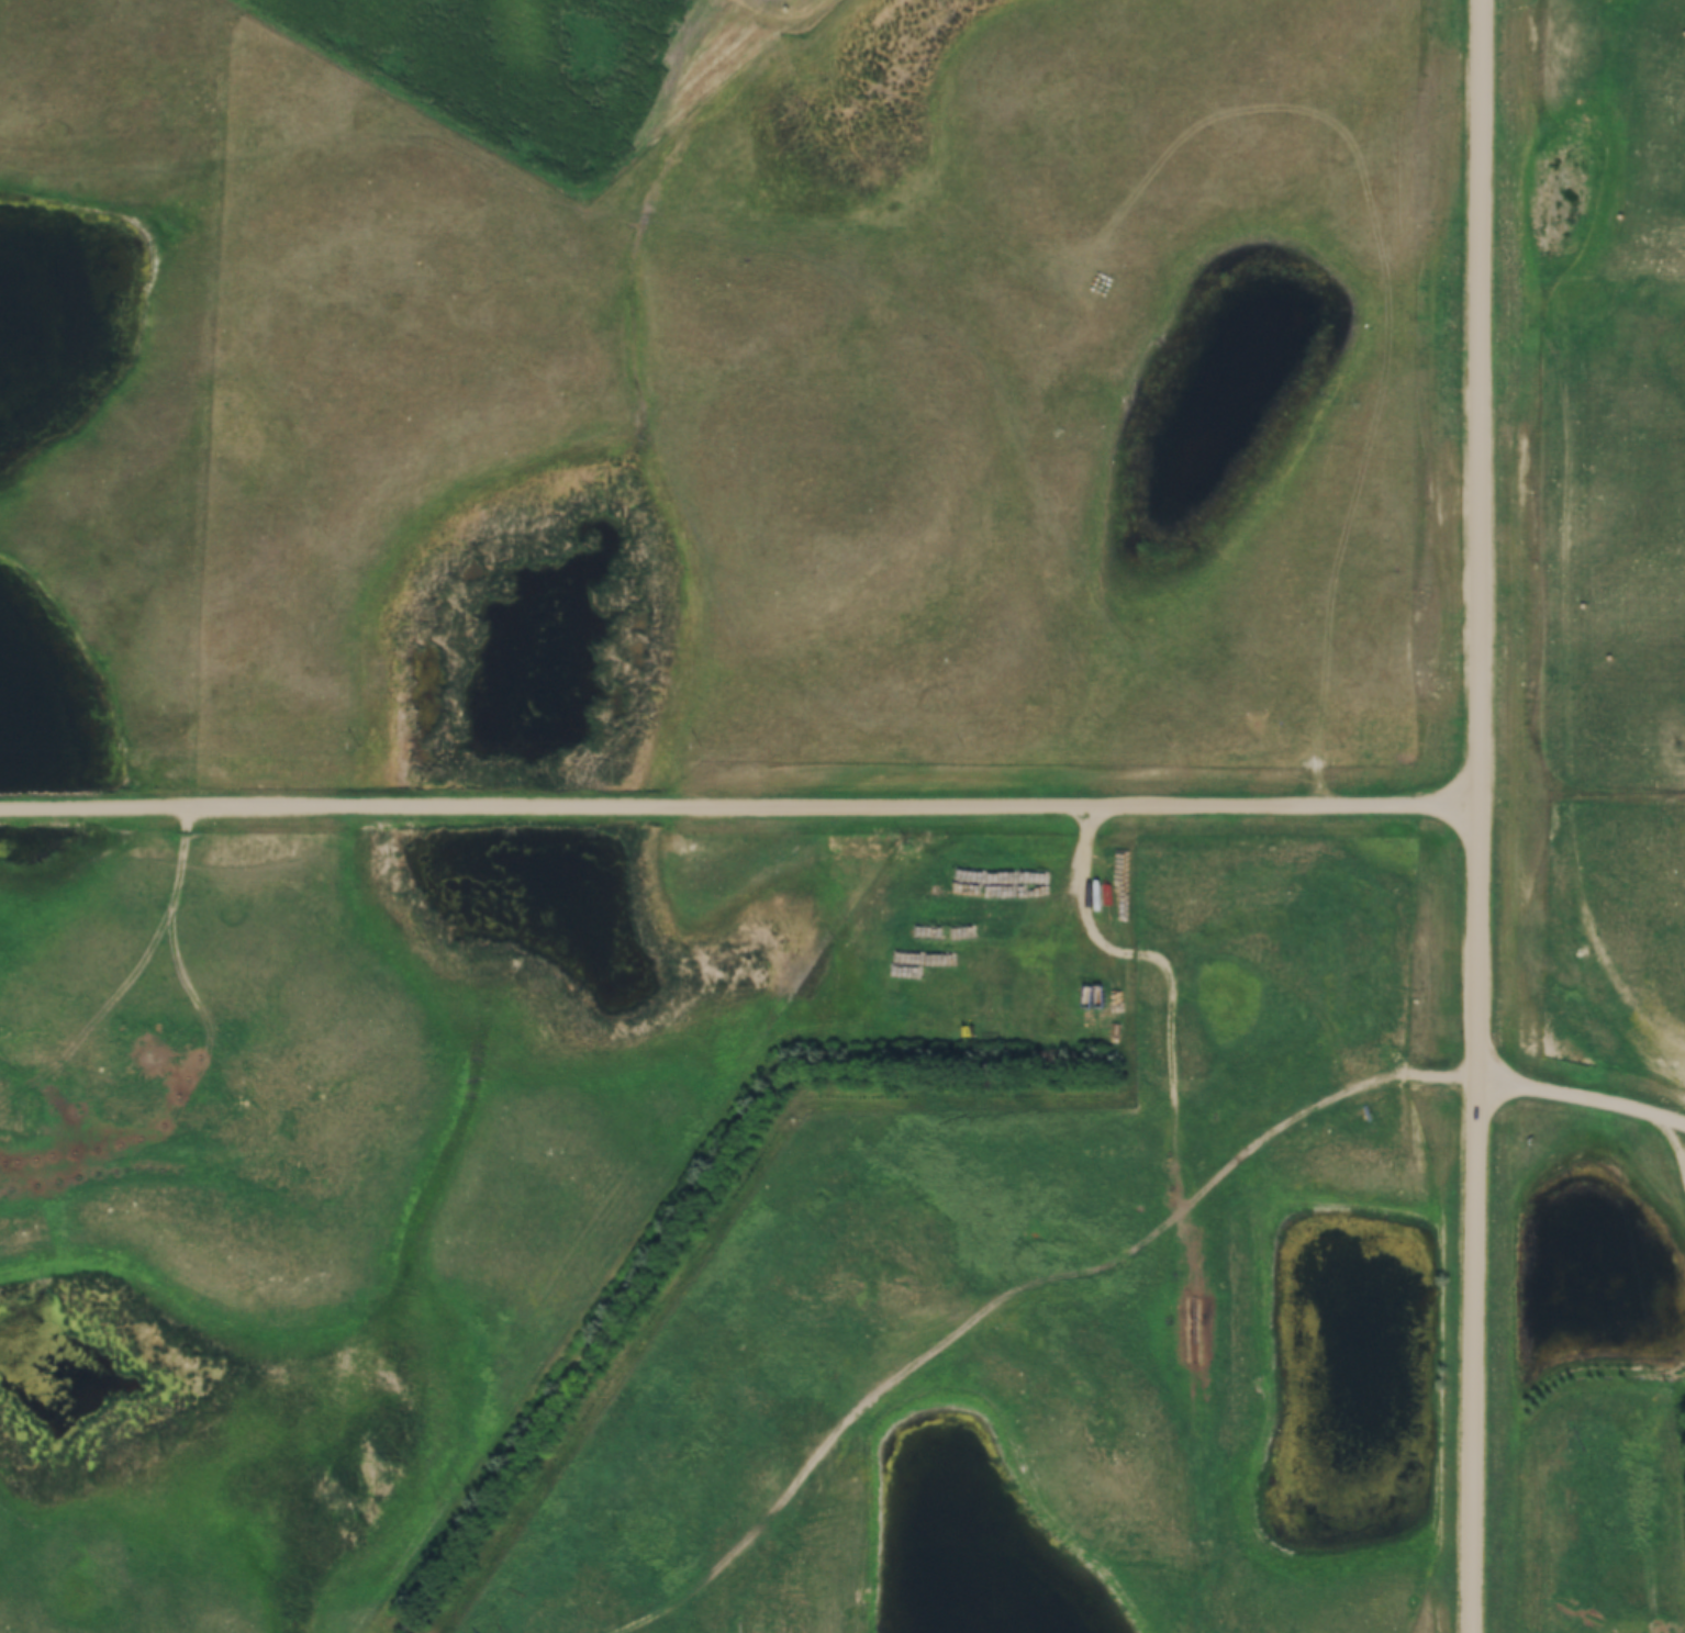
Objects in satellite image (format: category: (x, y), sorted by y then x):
road: (739, 812)
road: (1478, 816)
road: (1386, 1078)
road: (1582, 1101)
road: (1683, 1161)

